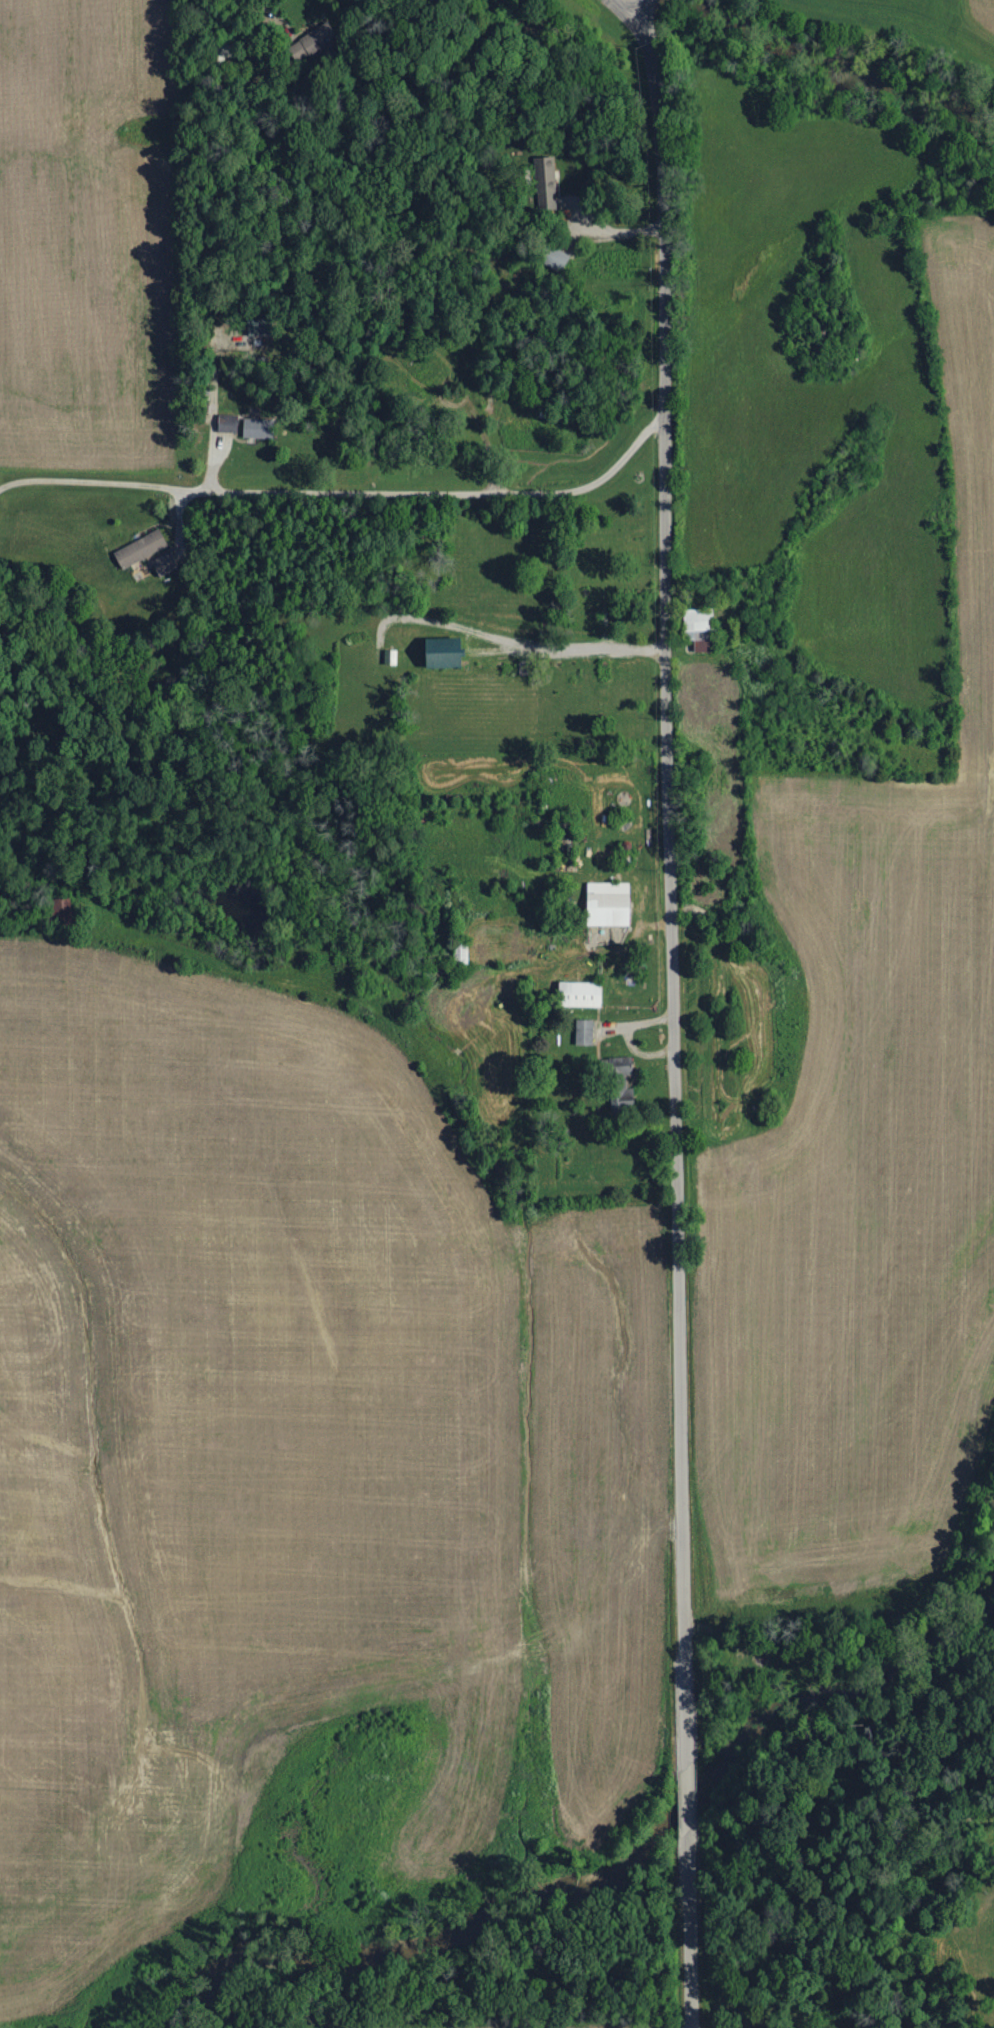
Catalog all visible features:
road: (618, 11)
road: (639, 43)
building: (545, 184)
building: (261, 327)
building: (228, 424)
building: (258, 429)
building: (141, 548)
building: (165, 563)
building: (700, 628)
building: (446, 652)
building: (609, 904)
road: (671, 925)
building: (581, 994)
building: (585, 1032)
building: (623, 1066)
road: (686, 1801)
road: (688, 1934)

